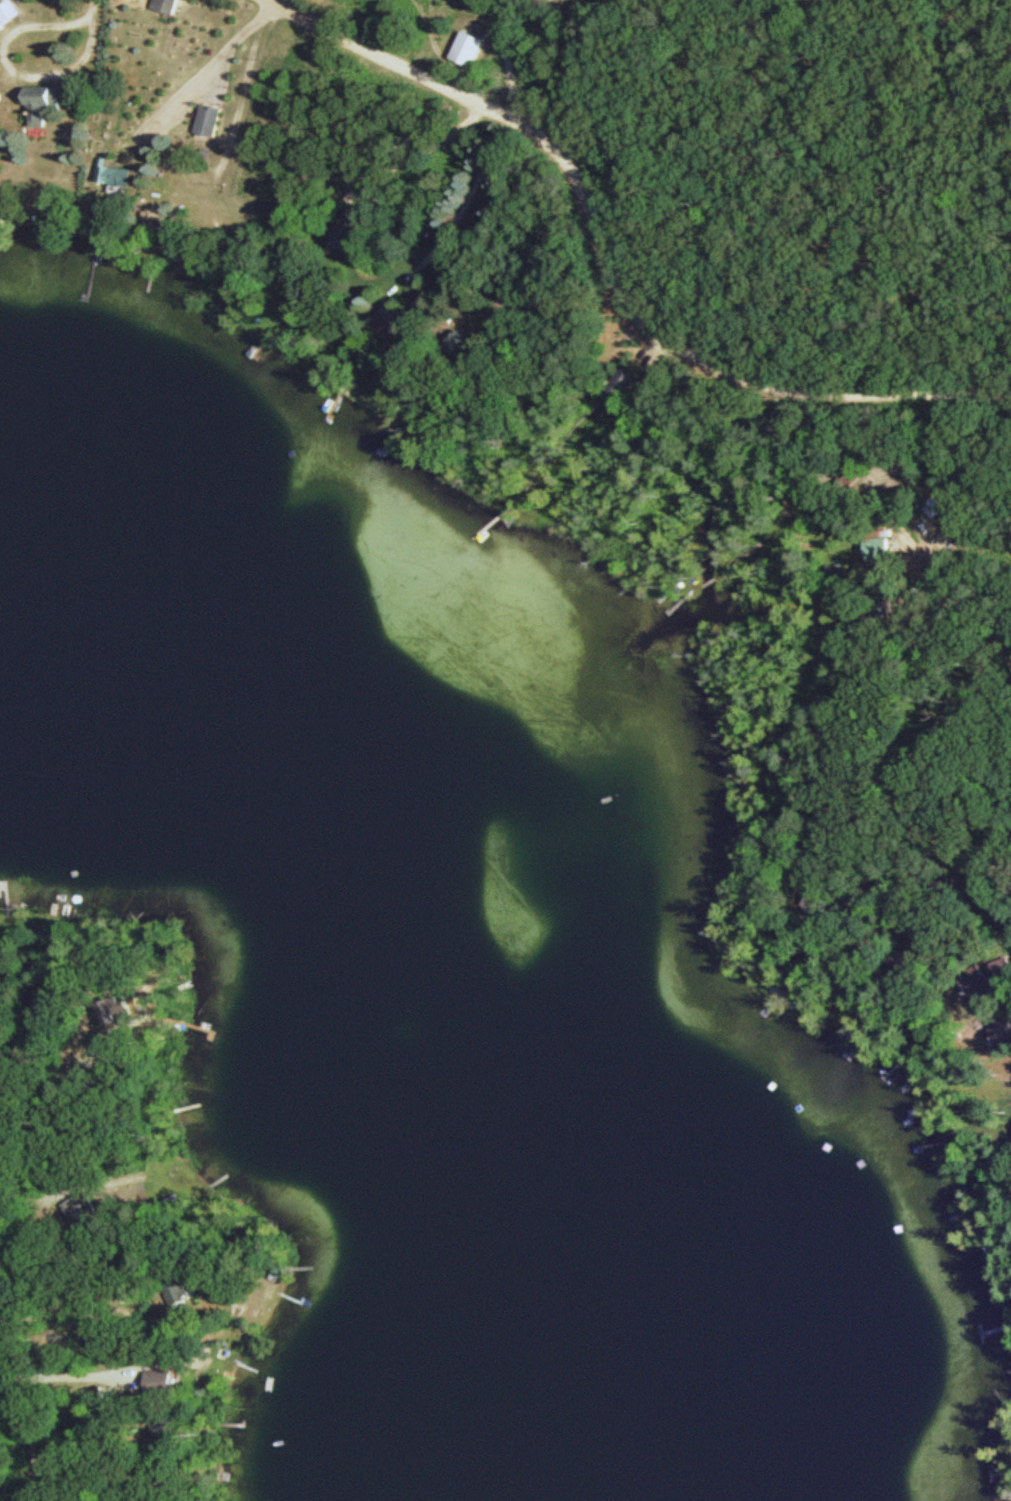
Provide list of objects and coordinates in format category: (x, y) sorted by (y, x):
building: (170, 5)
building: (9, 11)
building: (472, 46)
building: (48, 104)
road: (106, 111)
building: (214, 118)
road: (268, 132)
building: (127, 174)
building: (353, 230)
road: (613, 264)
building: (632, 385)
building: (948, 514)
building: (882, 547)
road: (955, 586)
building: (85, 1211)
road: (22, 1372)
building: (164, 1380)

